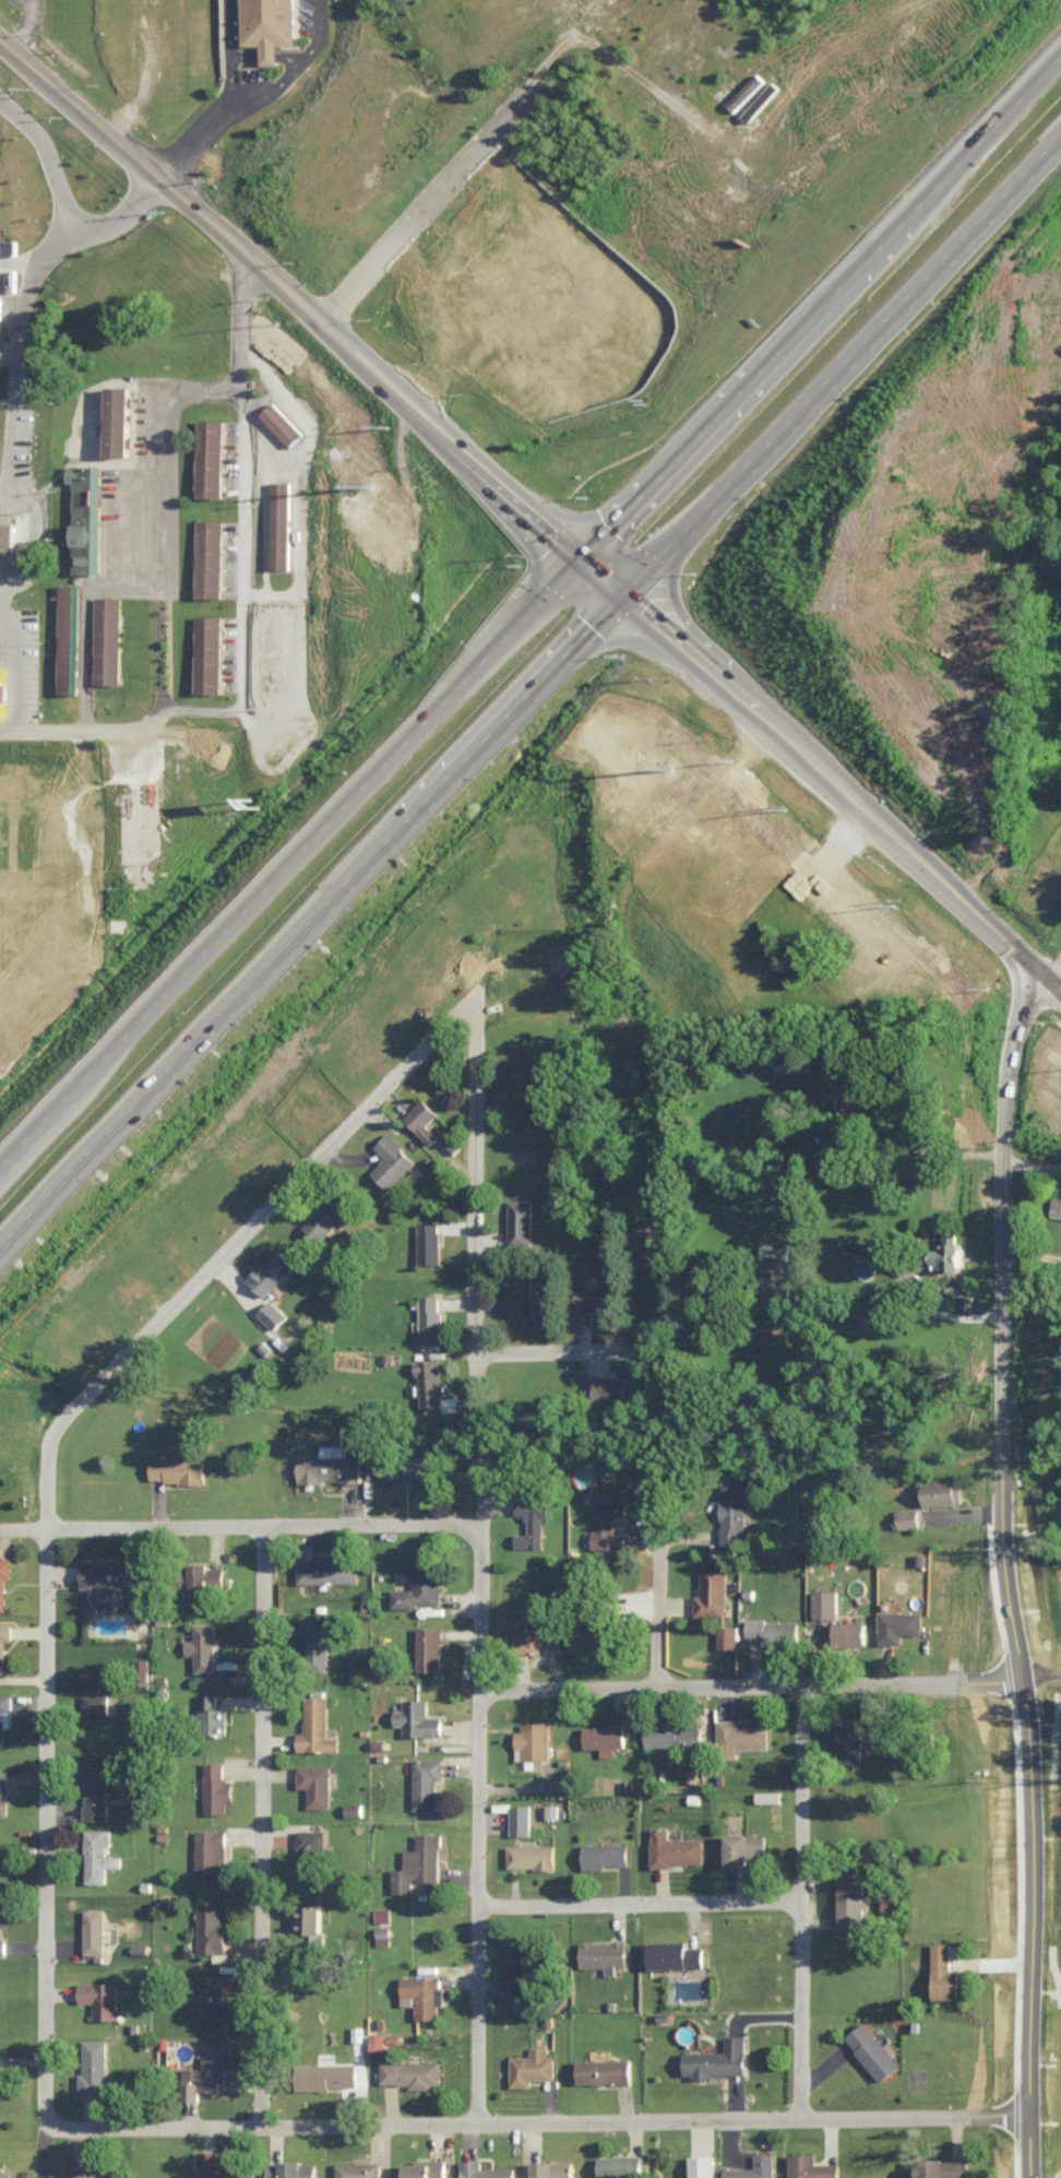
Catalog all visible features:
parking lot: (319, 13)
building: (278, 22)
road: (34, 27)
road: (273, 45)
parking lot: (265, 70)
road: (262, 86)
building: (761, 99)
road: (195, 133)
road: (46, 155)
road: (159, 178)
road: (419, 205)
road: (160, 217)
building: (479, 224)
road: (763, 229)
road: (193, 247)
road: (818, 257)
building: (595, 291)
road: (165, 300)
road: (836, 310)
road: (19, 315)
road: (865, 367)
road: (337, 369)
road: (394, 374)
road: (380, 386)
road: (291, 396)
building: (119, 419)
building: (281, 423)
road: (446, 434)
road: (512, 447)
road: (265, 452)
building: (210, 457)
road: (241, 478)
road: (464, 496)
road: (437, 511)
building: (86, 517)
building: (279, 523)
road: (552, 534)
building: (8, 535)
road: (32, 537)
road: (296, 549)
road: (582, 549)
road: (160, 558)
building: (208, 558)
road: (568, 560)
road: (588, 569)
road: (557, 571)
road: (16, 581)
road: (691, 614)
building: (71, 638)
road: (31, 640)
building: (107, 640)
parking lot: (31, 650)
building: (208, 653)
road: (636, 665)
road: (696, 674)
helipad: (5, 684)
road: (618, 687)
road: (202, 706)
road: (85, 727)
road: (231, 789)
building: (621, 798)
road: (875, 814)
road: (837, 826)
road: (863, 828)
road: (264, 837)
building: (730, 856)
road: (283, 890)
building: (40, 910)
building: (116, 923)
road: (319, 944)
road: (1040, 975)
road: (1041, 1021)
road: (1010, 1061)
building: (794, 1062)
road: (1024, 1074)
building: (518, 1080)
building: (855, 1101)
building: (421, 1118)
road: (913, 1150)
building: (391, 1159)
road: (1030, 1162)
building: (1057, 1203)
road: (263, 1211)
building: (327, 1216)
building: (520, 1220)
building: (428, 1241)
building: (951, 1247)
building: (774, 1251)
road: (1030, 1253)
building: (908, 1262)
building: (271, 1270)
building: (521, 1291)
building: (597, 1298)
building: (966, 1301)
building: (538, 1306)
road: (705, 1306)
building: (272, 1313)
building: (430, 1316)
road: (567, 1353)
building: (433, 1387)
building: (610, 1389)
building: (330, 1465)
building: (410, 1467)
building: (177, 1468)
building: (607, 1481)
building: (941, 1490)
road: (963, 1512)
building: (732, 1514)
building: (532, 1516)
building: (908, 1516)
building: (607, 1523)
road: (243, 1528)
road: (487, 1552)
building: (326, 1566)
building: (109, 1573)
building: (207, 1576)
building: (4, 1579)
building: (421, 1583)
building: (712, 1589)
road: (652, 1596)
building: (825, 1602)
building: (897, 1624)
building: (529, 1625)
building: (774, 1630)
building: (851, 1632)
building: (727, 1635)
building: (4, 1641)
building: (317, 1642)
building: (201, 1644)
building: (429, 1647)
road: (1016, 1647)
road: (1040, 1667)
road: (755, 1683)
building: (94, 1701)
building: (4, 1713)
building: (212, 1713)
building: (417, 1718)
building: (315, 1726)
building: (673, 1735)
building: (741, 1735)
building: (854, 1735)
building: (605, 1737)
building: (533, 1740)
building: (426, 1780)
building: (315, 1783)
road: (41, 1784)
building: (216, 1787)
building: (95, 1789)
building: (3, 1790)
building: (768, 1796)
building: (353, 1808)
building: (520, 1819)
road: (267, 1825)
building: (746, 1847)
building: (673, 1848)
building: (210, 1851)
building: (310, 1854)
building: (605, 1854)
building: (98, 1855)
building: (530, 1855)
building: (419, 1863)
road: (649, 1894)
building: (851, 1898)
road: (810, 1899)
building: (382, 1914)
building: (310, 1919)
building: (212, 1929)
building: (94, 1930)
building: (383, 1934)
building: (2, 1940)
building: (604, 1953)
building: (676, 1953)
road: (992, 1963)
building: (527, 1967)
building: (944, 1972)
building: (422, 1993)
building: (100, 1997)
building: (212, 1999)
building: (378, 2040)
building: (872, 2050)
building: (717, 2059)
building: (94, 2065)
building: (532, 2065)
building: (605, 2070)
building: (206, 2071)
building: (410, 2072)
building: (325, 2074)
building: (3, 2080)
road: (540, 2120)
building: (621, 2166)
building: (703, 2166)
building: (812, 2166)
building: (216, 2167)
building: (754, 2167)
building: (425, 2168)
building: (551, 2168)
building: (943, 2168)
building: (291, 2169)
building: (358, 2169)
building: (485, 2169)
building: (4, 2173)
building: (94, 2173)

